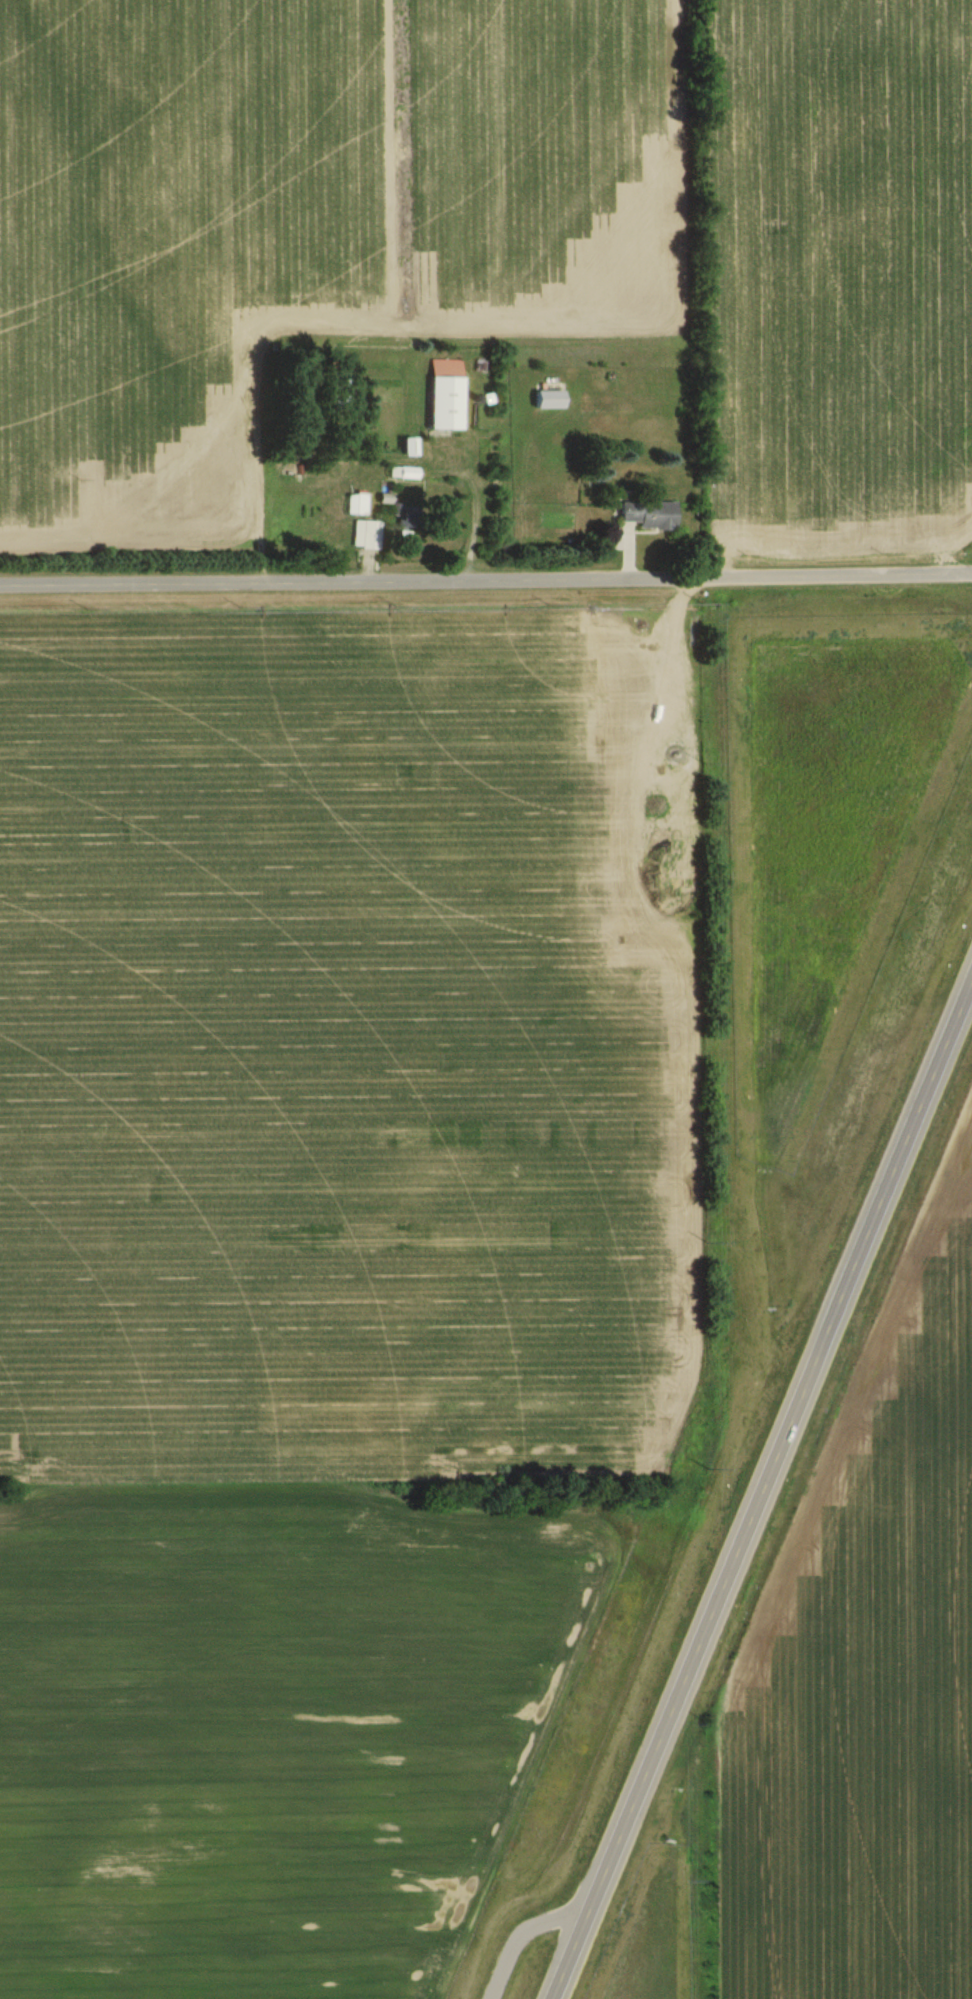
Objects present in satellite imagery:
crop: (308, 215)
crop: (839, 273)
building: (446, 395)
building: (549, 399)
building: (356, 504)
building: (650, 515)
building: (405, 521)
building: (366, 535)
road: (486, 583)
crop: (347, 1052)
road: (763, 1484)
crop: (863, 1673)
crop: (293, 1724)
road: (534, 1938)

